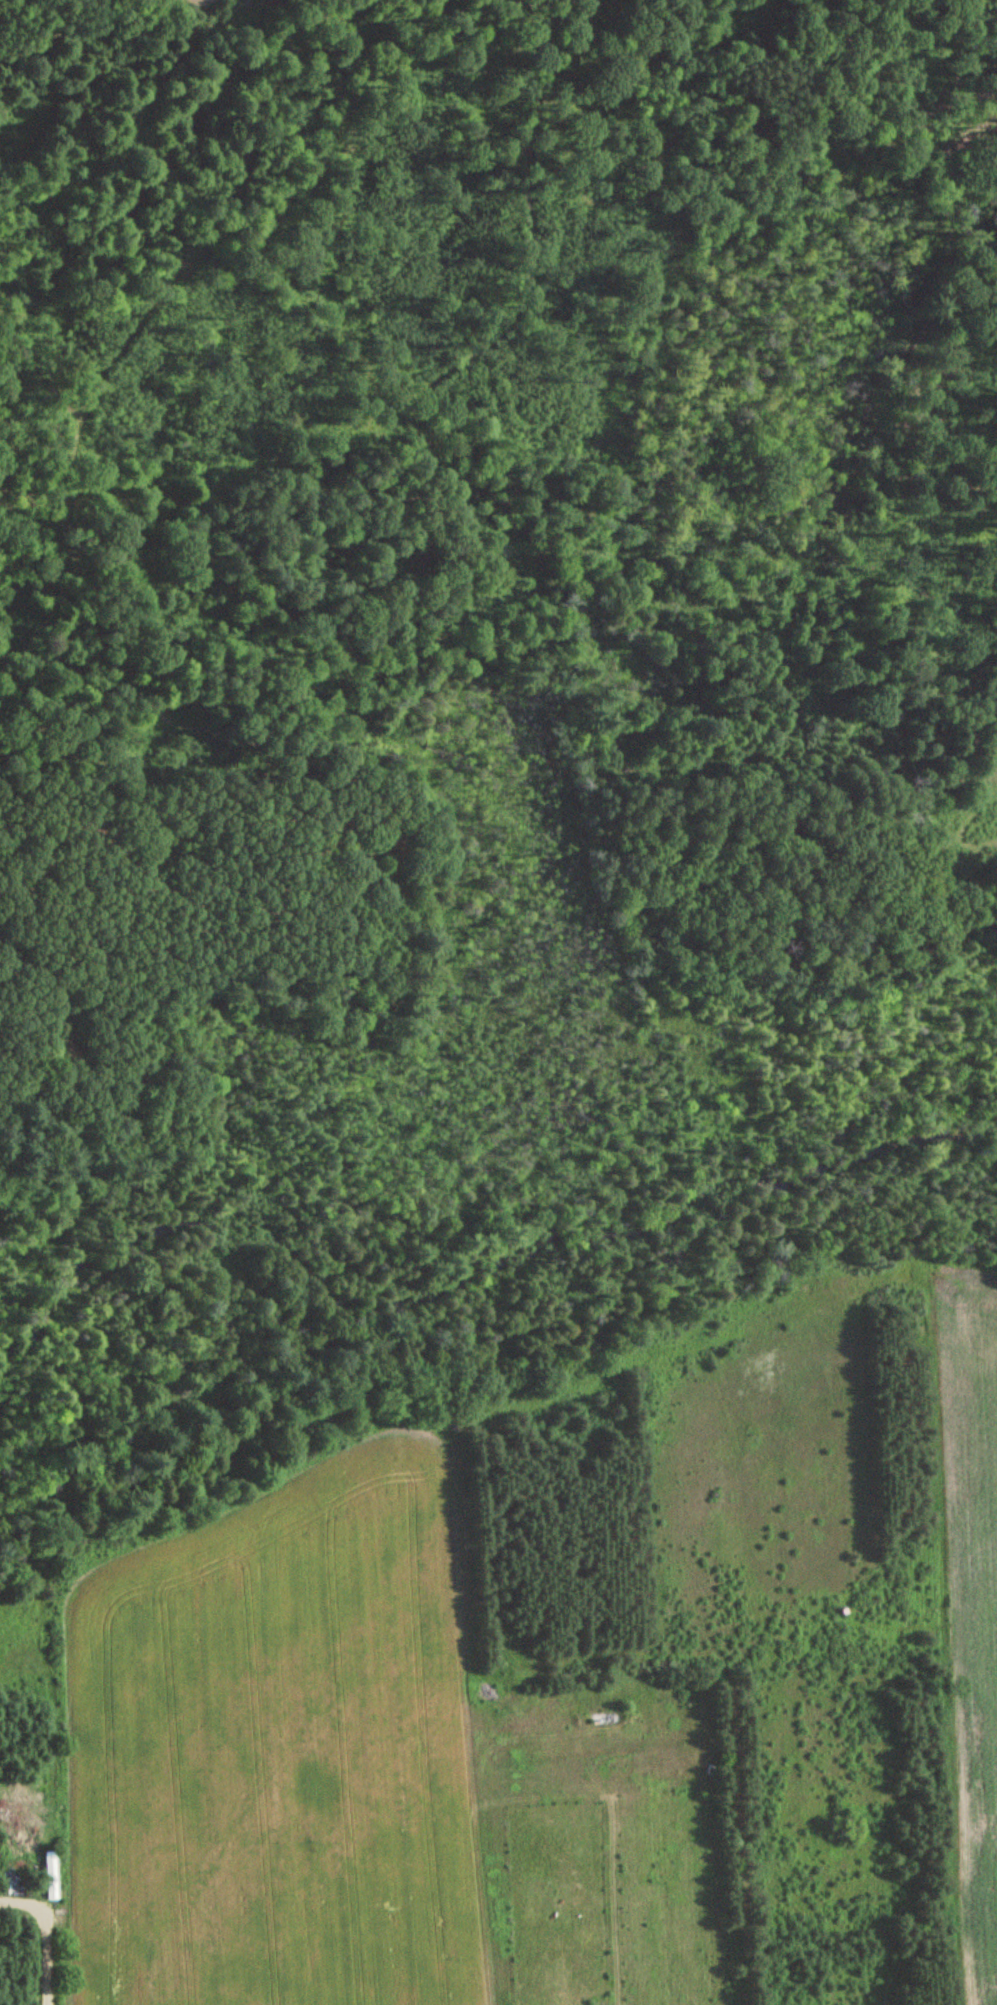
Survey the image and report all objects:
road: (40, 1970)

